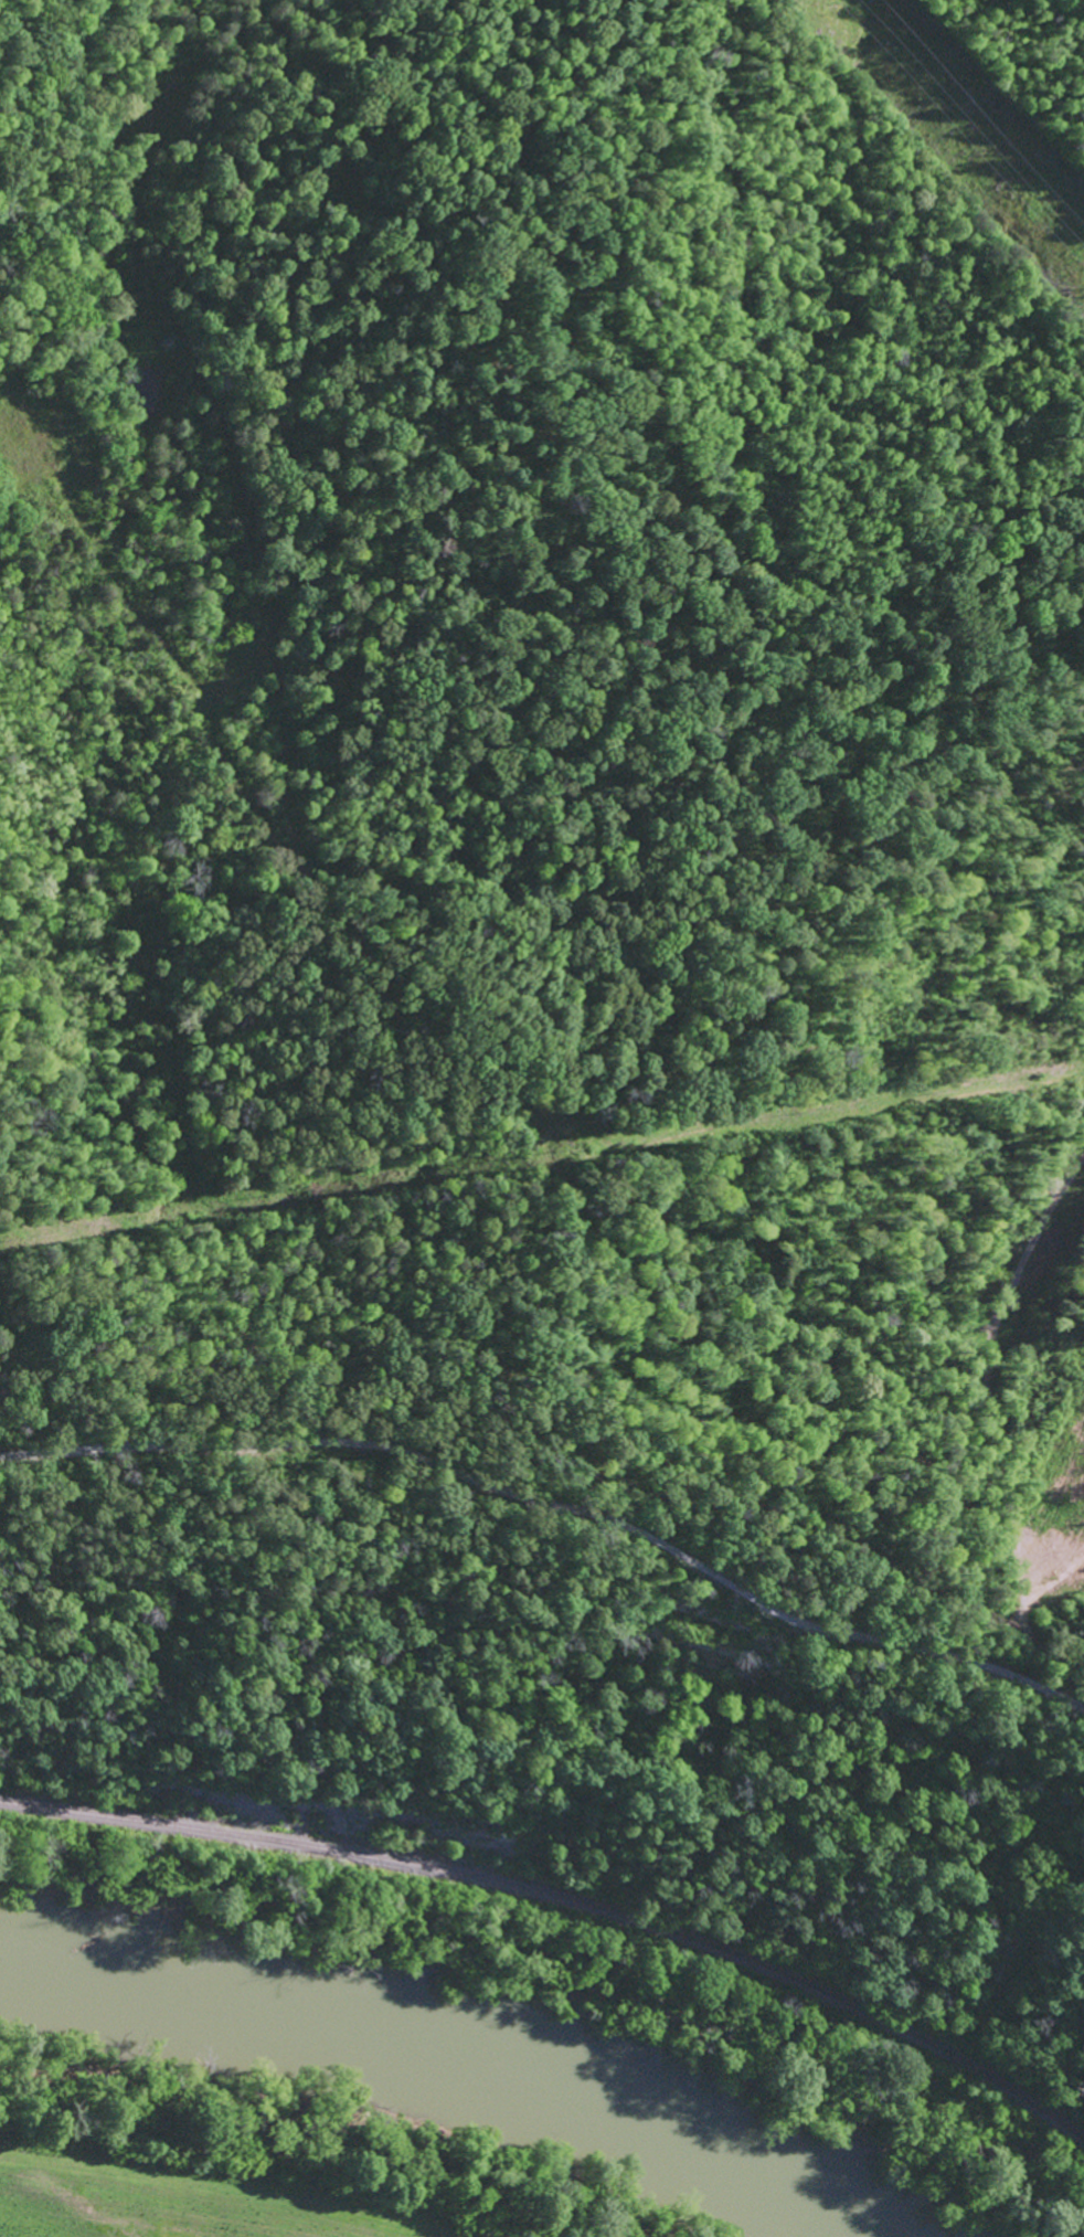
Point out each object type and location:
road: (557, 1506)
railway: (563, 1899)
river: (457, 2050)

